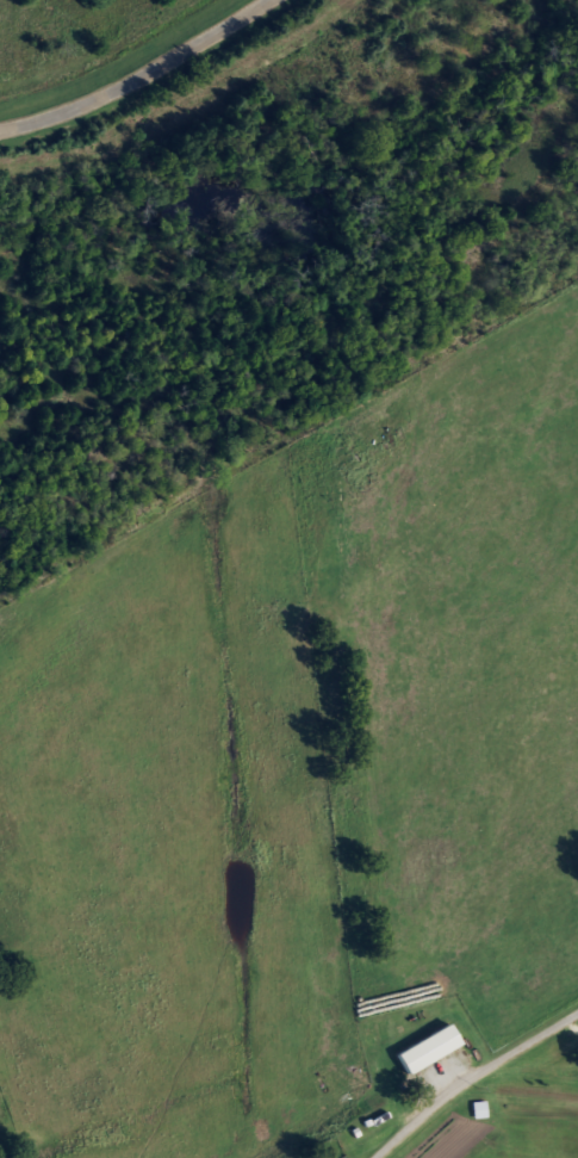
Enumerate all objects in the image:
road: (136, 76)
building: (424, 1047)
road: (472, 1077)
building: (480, 1110)

